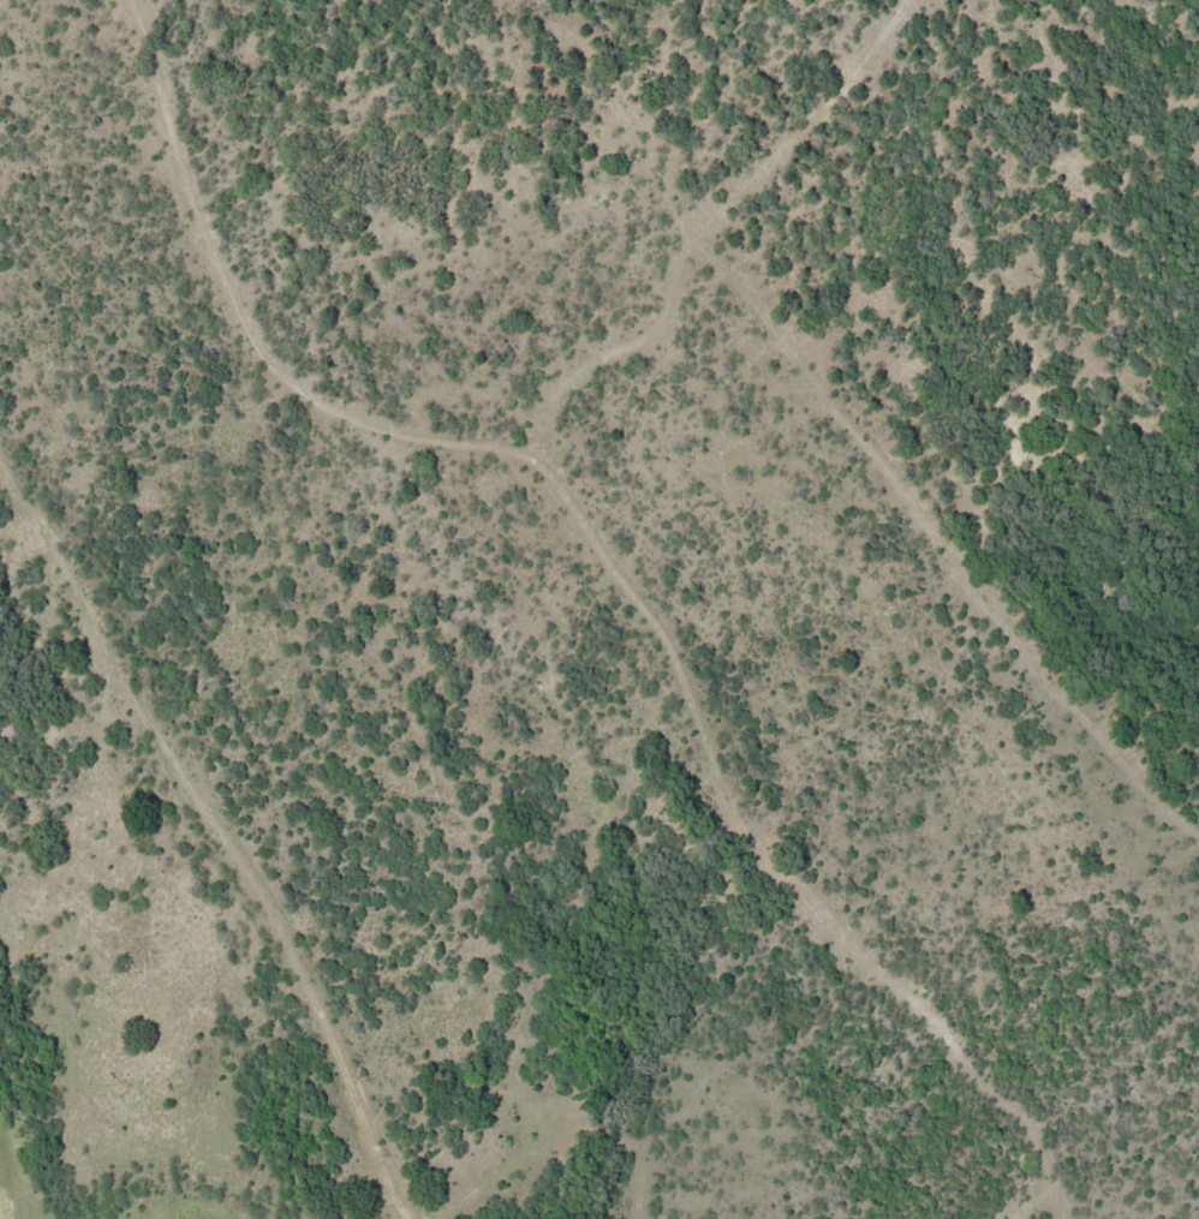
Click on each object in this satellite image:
road: (422, 440)
road: (209, 833)

